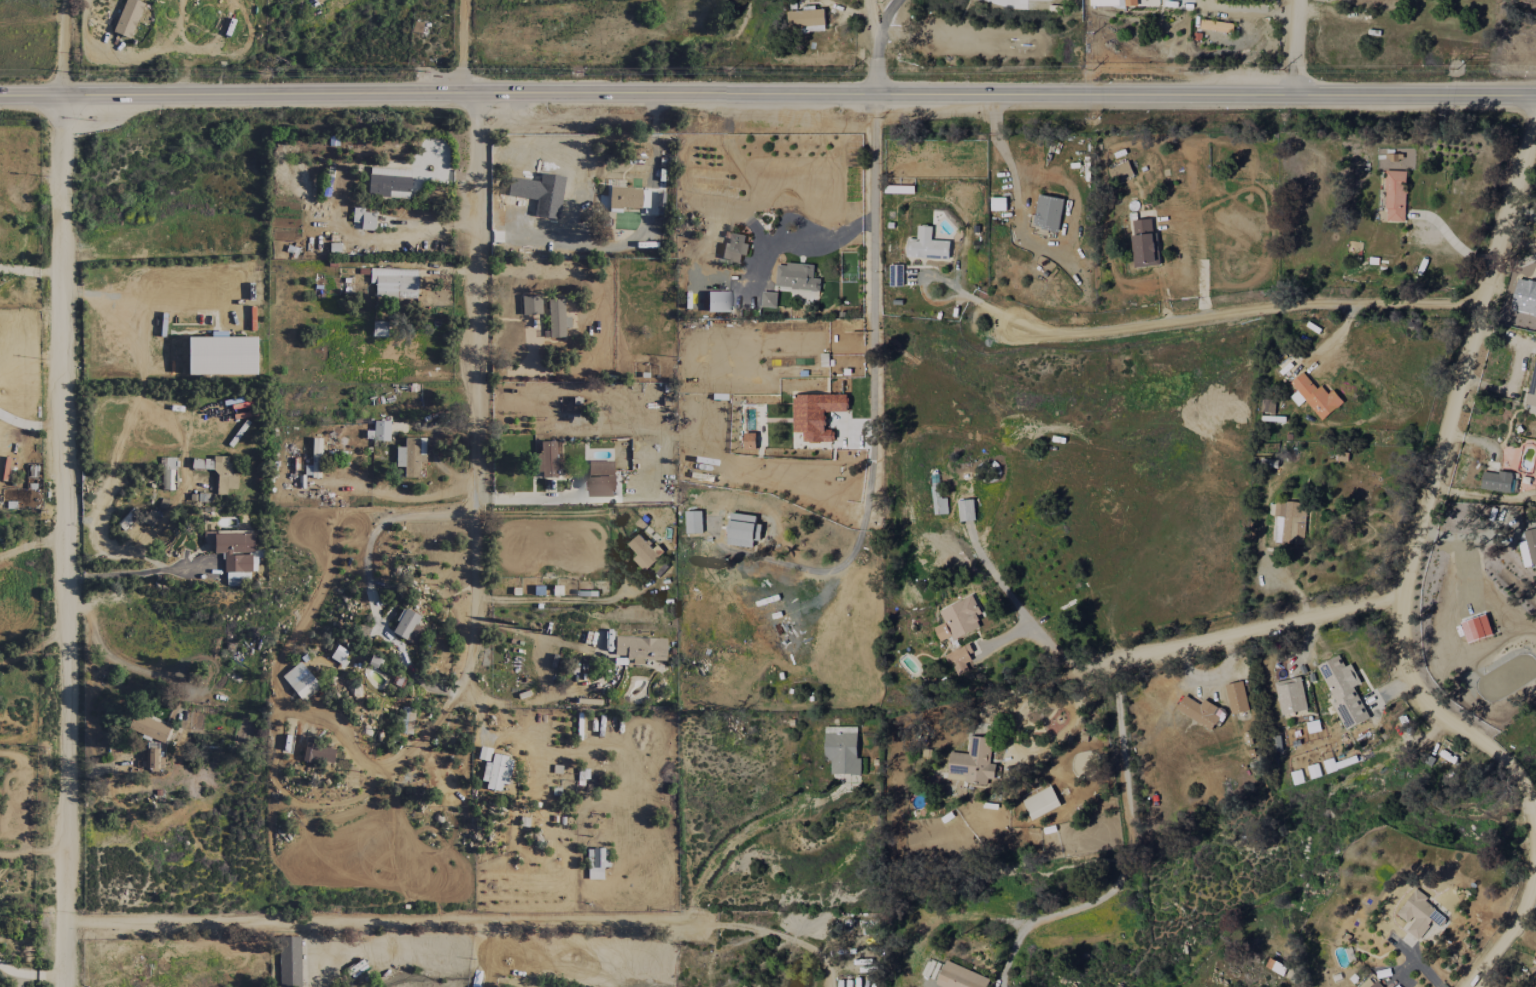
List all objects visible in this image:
building: (1112, 3)
building: (127, 18)
building: (807, 19)
building: (1216, 25)
road: (462, 41)
road: (866, 41)
road: (1296, 43)
road: (768, 82)
building: (1120, 171)
building: (387, 184)
building: (520, 188)
building: (1395, 196)
building: (624, 198)
building: (538, 201)
building: (998, 203)
road: (1524, 211)
building: (1048, 212)
building: (363, 218)
road: (631, 239)
road: (795, 239)
road: (1026, 239)
building: (1144, 243)
building: (927, 244)
building: (735, 247)
building: (797, 277)
building: (394, 283)
road: (135, 291)
road: (966, 294)
building: (769, 299)
building: (717, 302)
building: (530, 305)
road: (1233, 309)
building: (556, 319)
building: (379, 329)
building: (221, 355)
road: (870, 369)
road: (471, 383)
building: (1532, 391)
building: (1314, 396)
building: (816, 414)
road: (30, 426)
building: (381, 431)
building: (411, 456)
building: (314, 459)
building: (546, 460)
building: (167, 473)
building: (600, 478)
building: (1496, 481)
road: (1431, 486)
road: (1332, 491)
road: (65, 493)
road: (528, 497)
road: (406, 501)
building: (938, 501)
building: (966, 509)
building: (693, 521)
building: (1290, 522)
road: (380, 525)
road: (1311, 525)
building: (743, 530)
building: (1528, 549)
building: (643, 552)
building: (235, 556)
road: (127, 572)
road: (552, 599)
road: (1018, 611)
building: (958, 619)
building: (404, 624)
road: (1246, 628)
building: (1476, 628)
building: (640, 649)
building: (339, 655)
road: (112, 659)
building: (960, 659)
road: (543, 669)
road: (608, 669)
building: (300, 681)
building: (1343, 691)
building: (1290, 695)
building: (1237, 697)
building: (1198, 711)
building: (406, 720)
building: (148, 728)
building: (842, 750)
road: (405, 753)
building: (484, 754)
building: (150, 759)
building: (973, 762)
building: (1330, 765)
building: (1314, 770)
building: (496, 773)
building: (1297, 776)
building: (1108, 800)
building: (1041, 802)
road: (747, 833)
road: (1127, 855)
building: (595, 863)
building: (1419, 914)
road: (369, 922)
road: (765, 931)
road: (1509, 931)
building: (289, 961)
building: (1276, 966)
road: (30, 972)
building: (960, 977)
building: (1370, 983)

